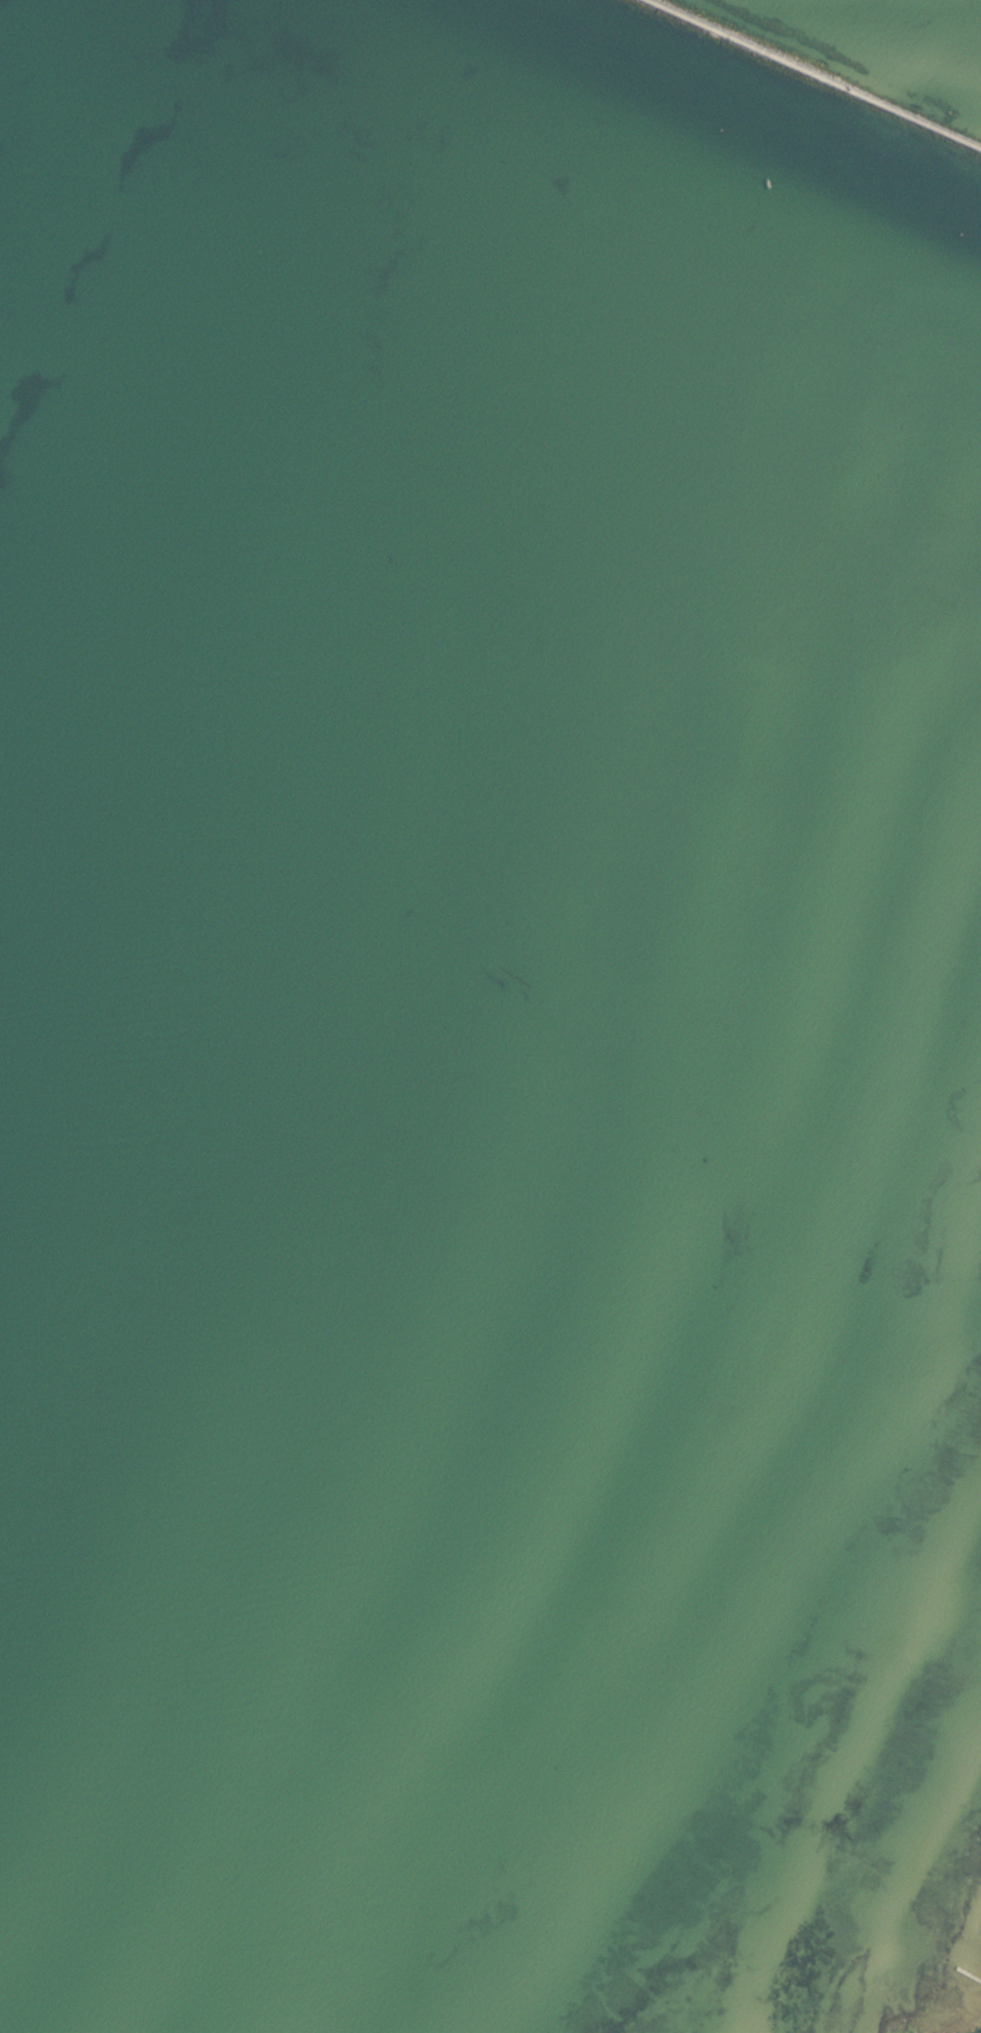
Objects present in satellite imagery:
pier: (809, 67)
road: (819, 71)
park: (825, 72)

